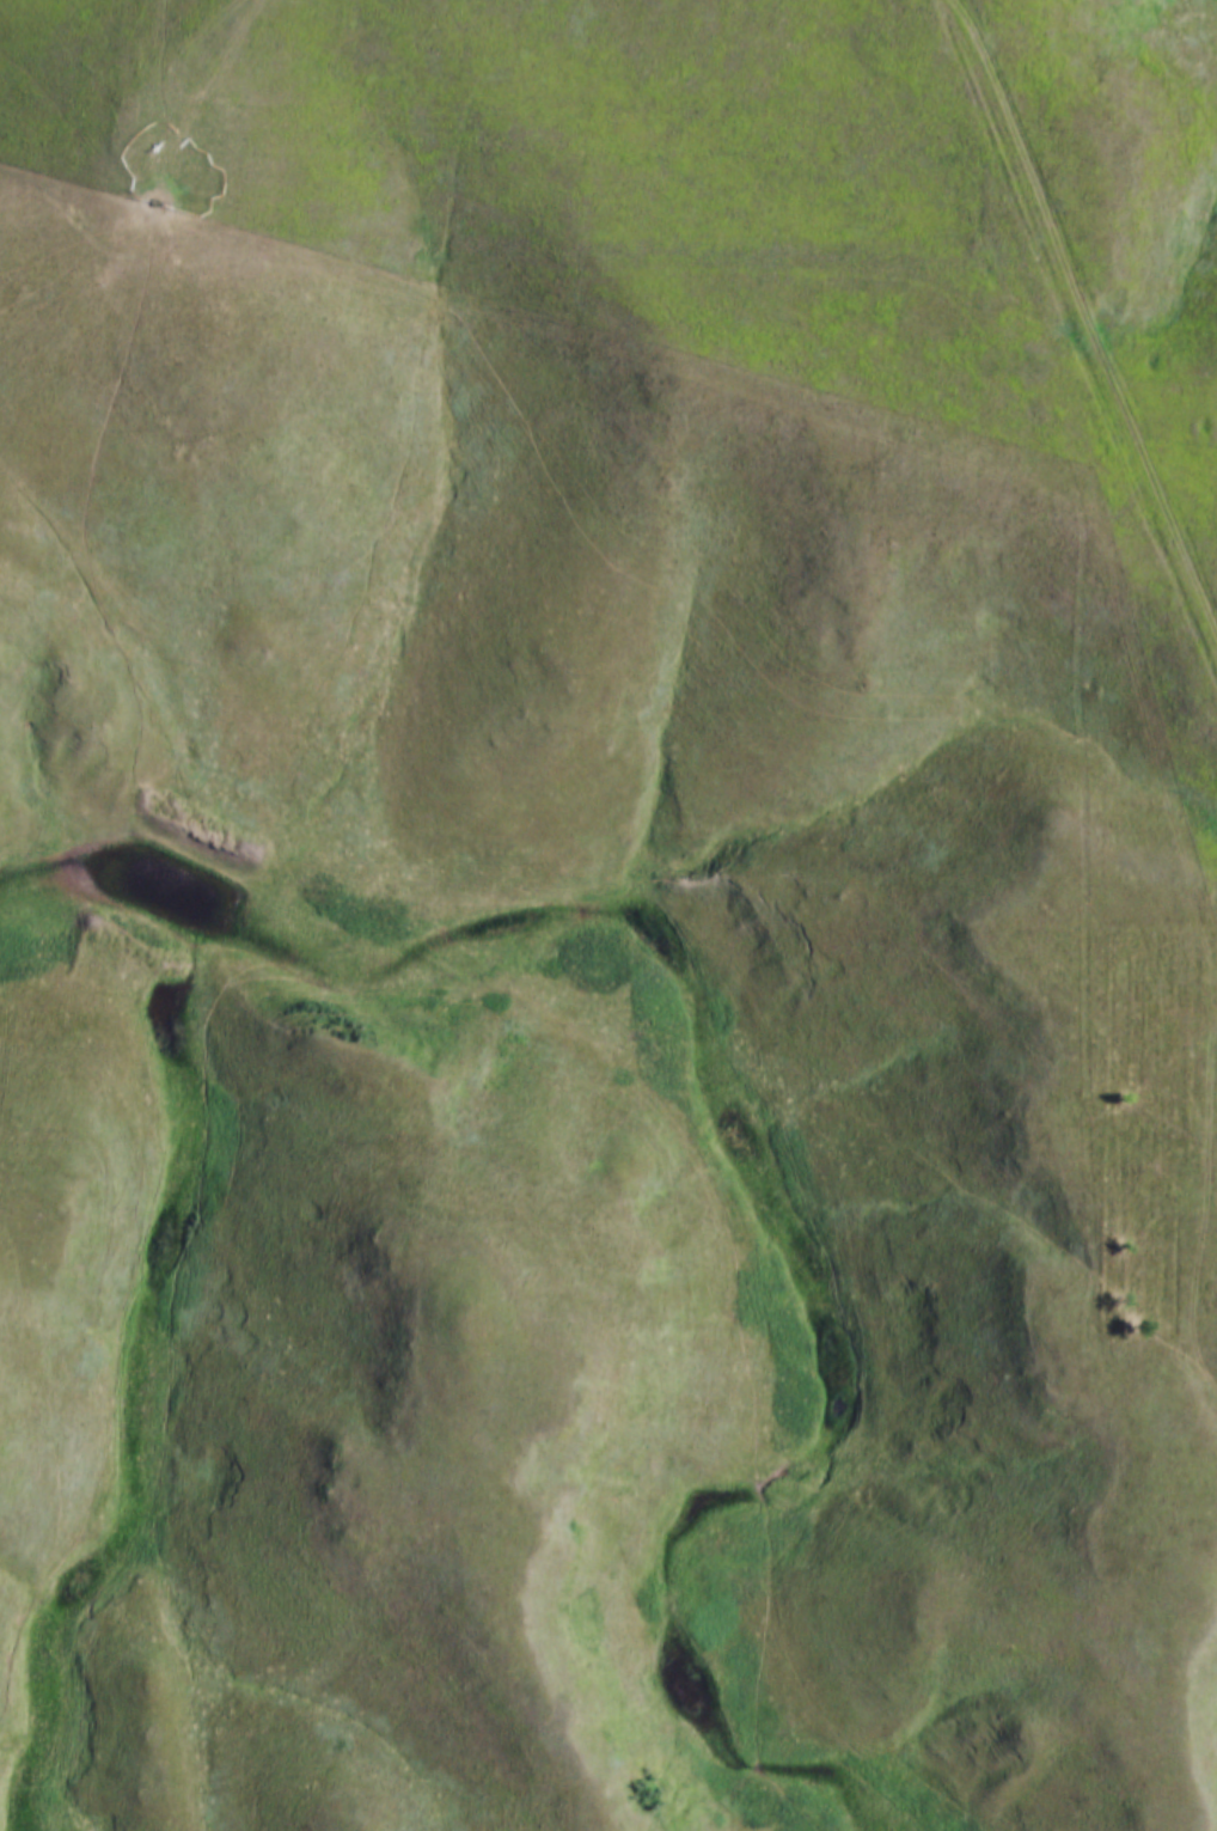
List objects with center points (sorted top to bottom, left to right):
road: (1083, 322)

